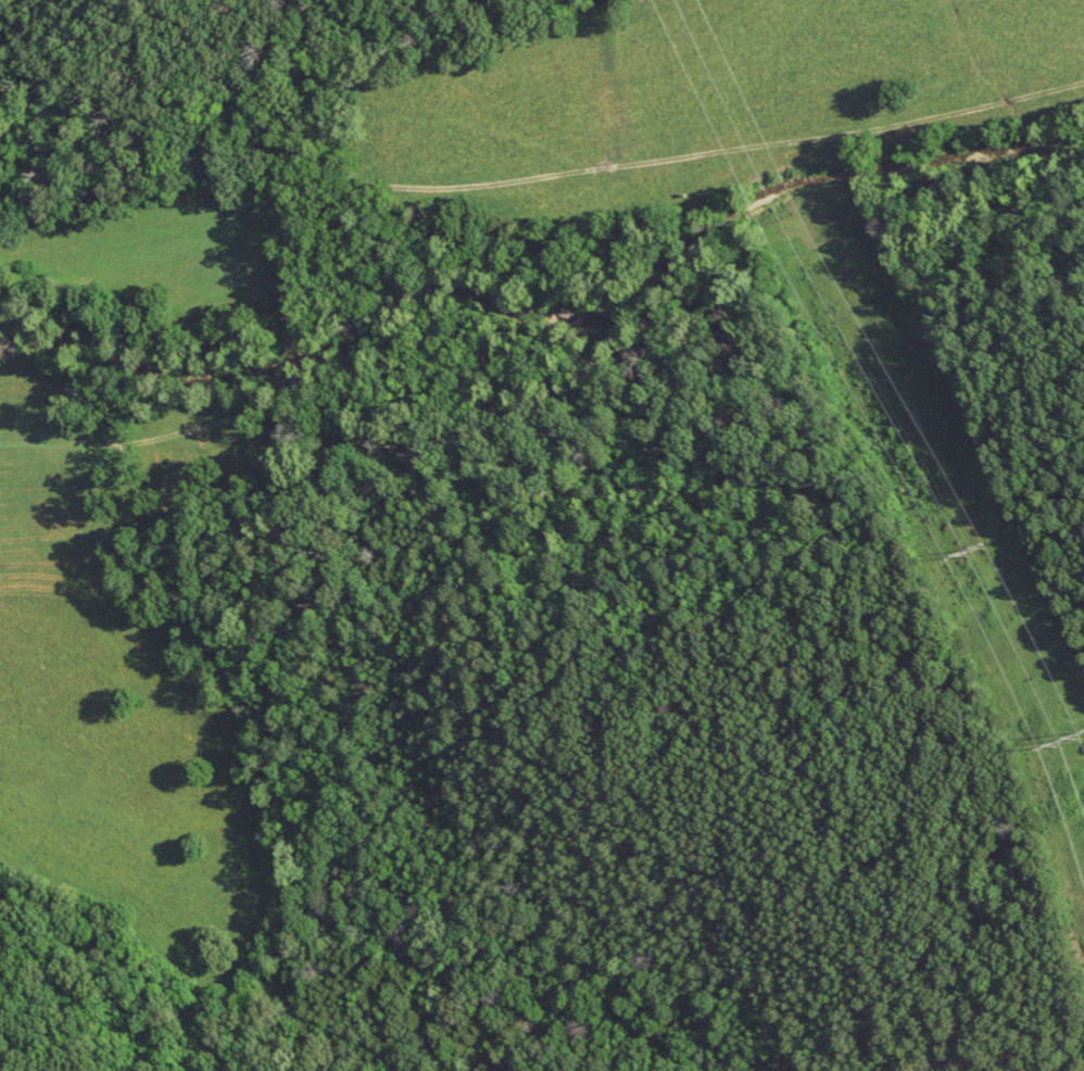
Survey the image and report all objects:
power tower: (970, 555)
power tower: (1073, 740)

